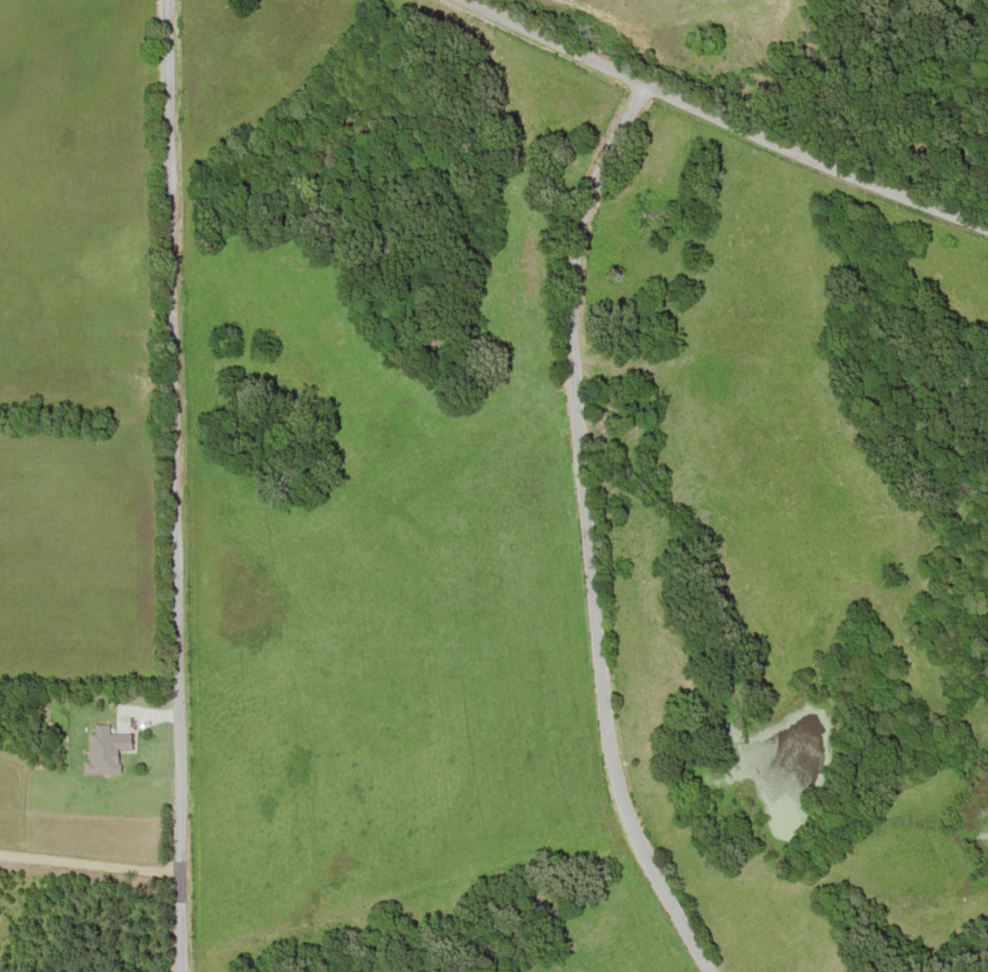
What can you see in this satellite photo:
road: (726, 114)
road: (172, 486)
road: (583, 530)
building: (117, 741)
road: (88, 864)

